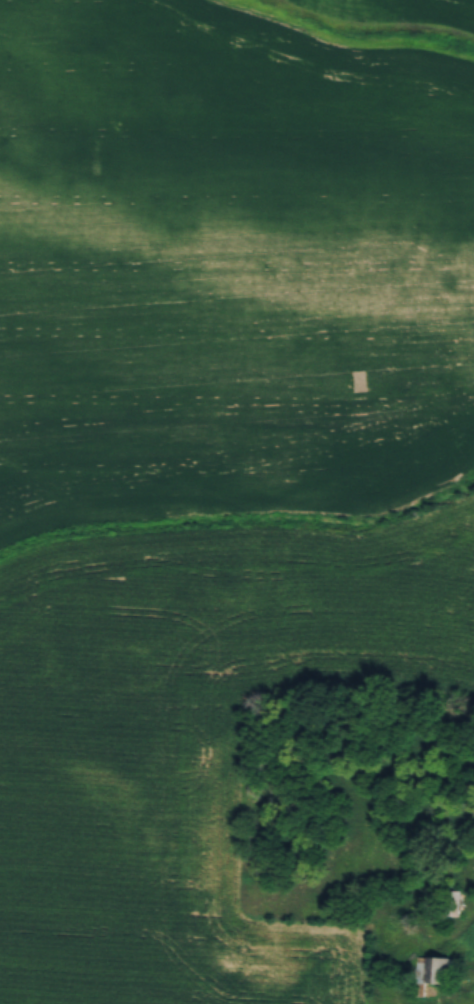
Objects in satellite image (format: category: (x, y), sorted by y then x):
building: (433, 971)

